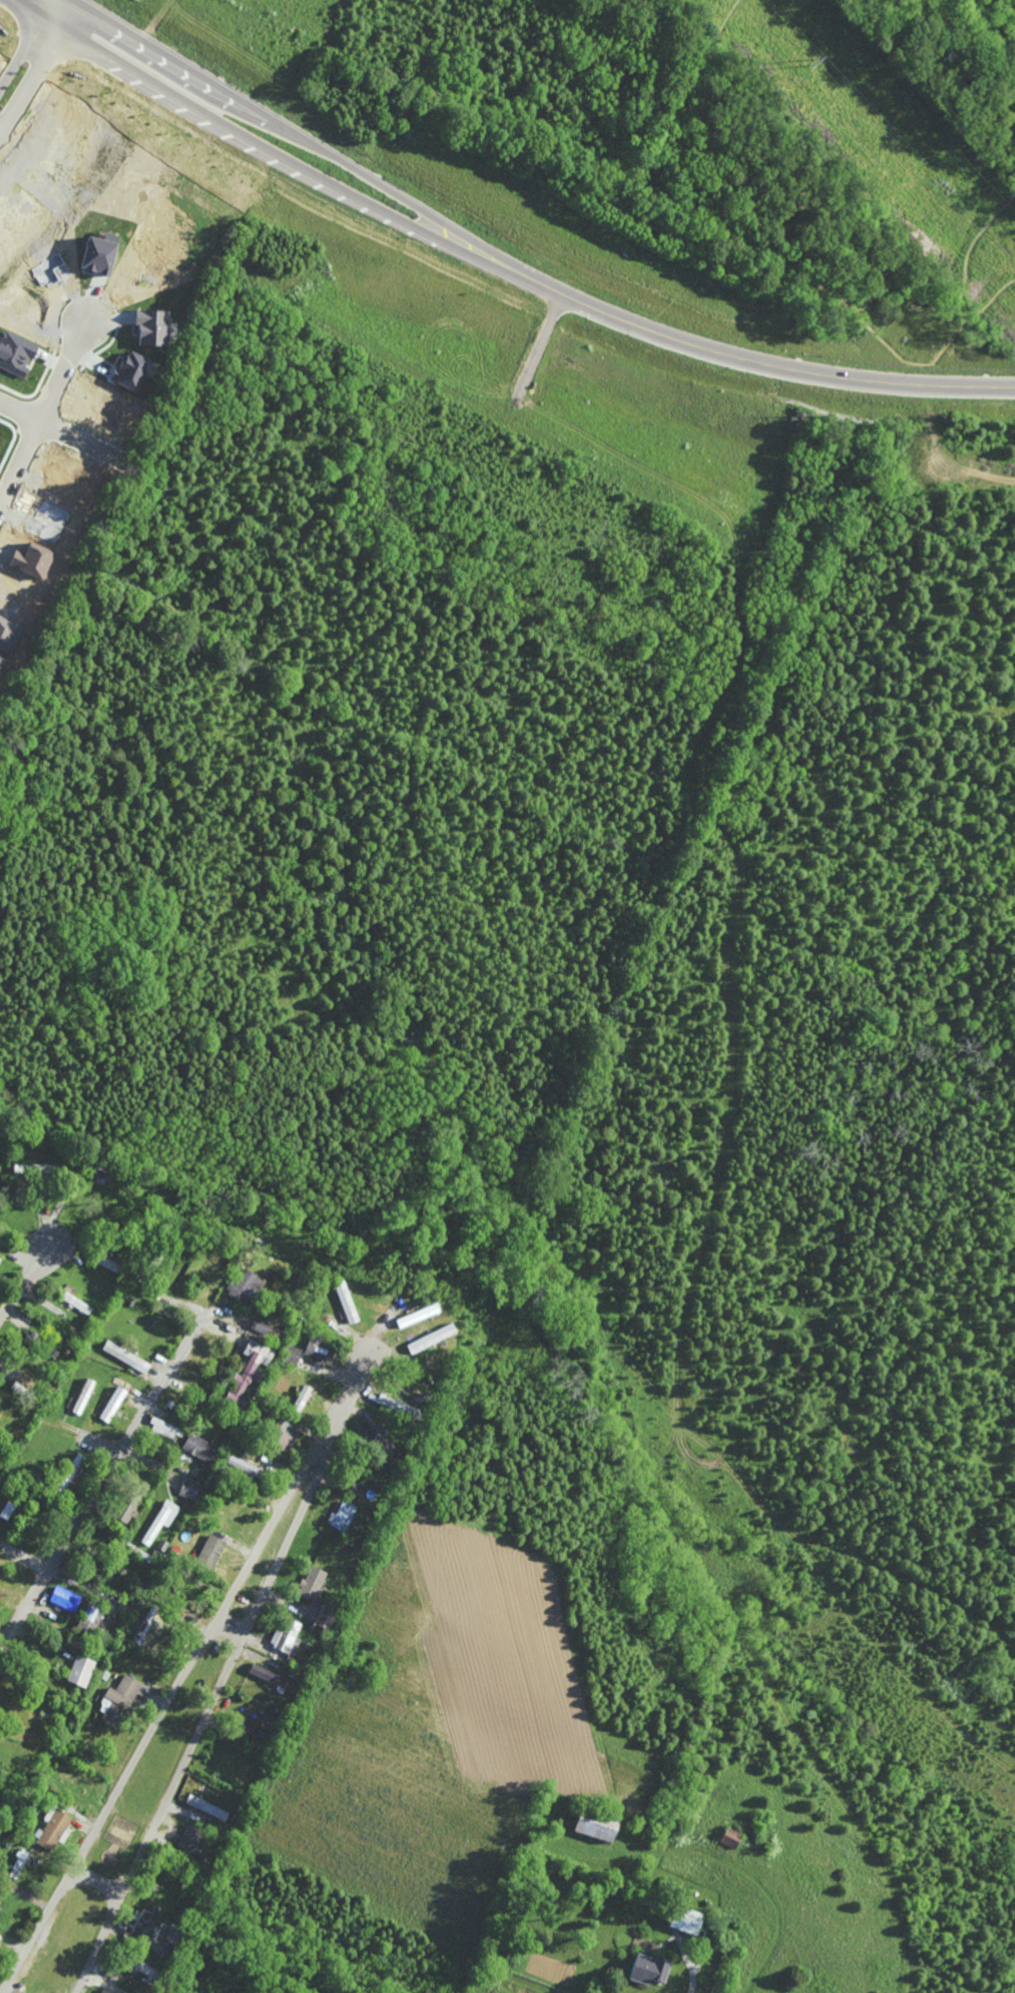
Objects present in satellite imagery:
road: (160, 20)
road: (646, 28)
road: (664, 32)
road: (710, 48)
road: (33, 56)
power tower: (805, 62)
road: (932, 74)
road: (389, 90)
road: (261, 110)
road: (726, 111)
road: (228, 122)
park: (838, 176)
road: (870, 205)
road: (820, 240)
road: (764, 241)
road: (970, 253)
road: (689, 282)
road: (870, 311)
road: (541, 342)
road: (717, 351)
road: (62, 371)
road: (32, 415)
road: (20, 462)
road: (965, 467)
road: (732, 1079)
building: (33, 1170)
building: (102, 1171)
building: (0, 1257)
road: (25, 1284)
building: (244, 1286)
building: (345, 1302)
building: (77, 1303)
building: (416, 1315)
building: (266, 1329)
building: (430, 1338)
building: (320, 1351)
building: (291, 1355)
building: (125, 1356)
building: (248, 1371)
building: (83, 1396)
building: (302, 1397)
building: (112, 1404)
building: (278, 1439)
building: (200, 1447)
building: (238, 1463)
building: (69, 1472)
building: (189, 1488)
building: (355, 1488)
road: (95, 1495)
building: (123, 1512)
building: (342, 1516)
building: (160, 1521)
building: (311, 1583)
building: (65, 1599)
building: (325, 1616)
building: (88, 1618)
building: (142, 1626)
building: (80, 1670)
road: (186, 1674)
road: (219, 1690)
building: (118, 1700)
building: (249, 1726)
building: (207, 1806)
building: (595, 1825)
building: (52, 1827)
building: (190, 1838)
building: (18, 1862)
road: (98, 1883)
building: (685, 1920)
building: (146, 1921)
building: (647, 1968)
road: (692, 1973)
building: (105, 1991)
building: (141, 1992)

